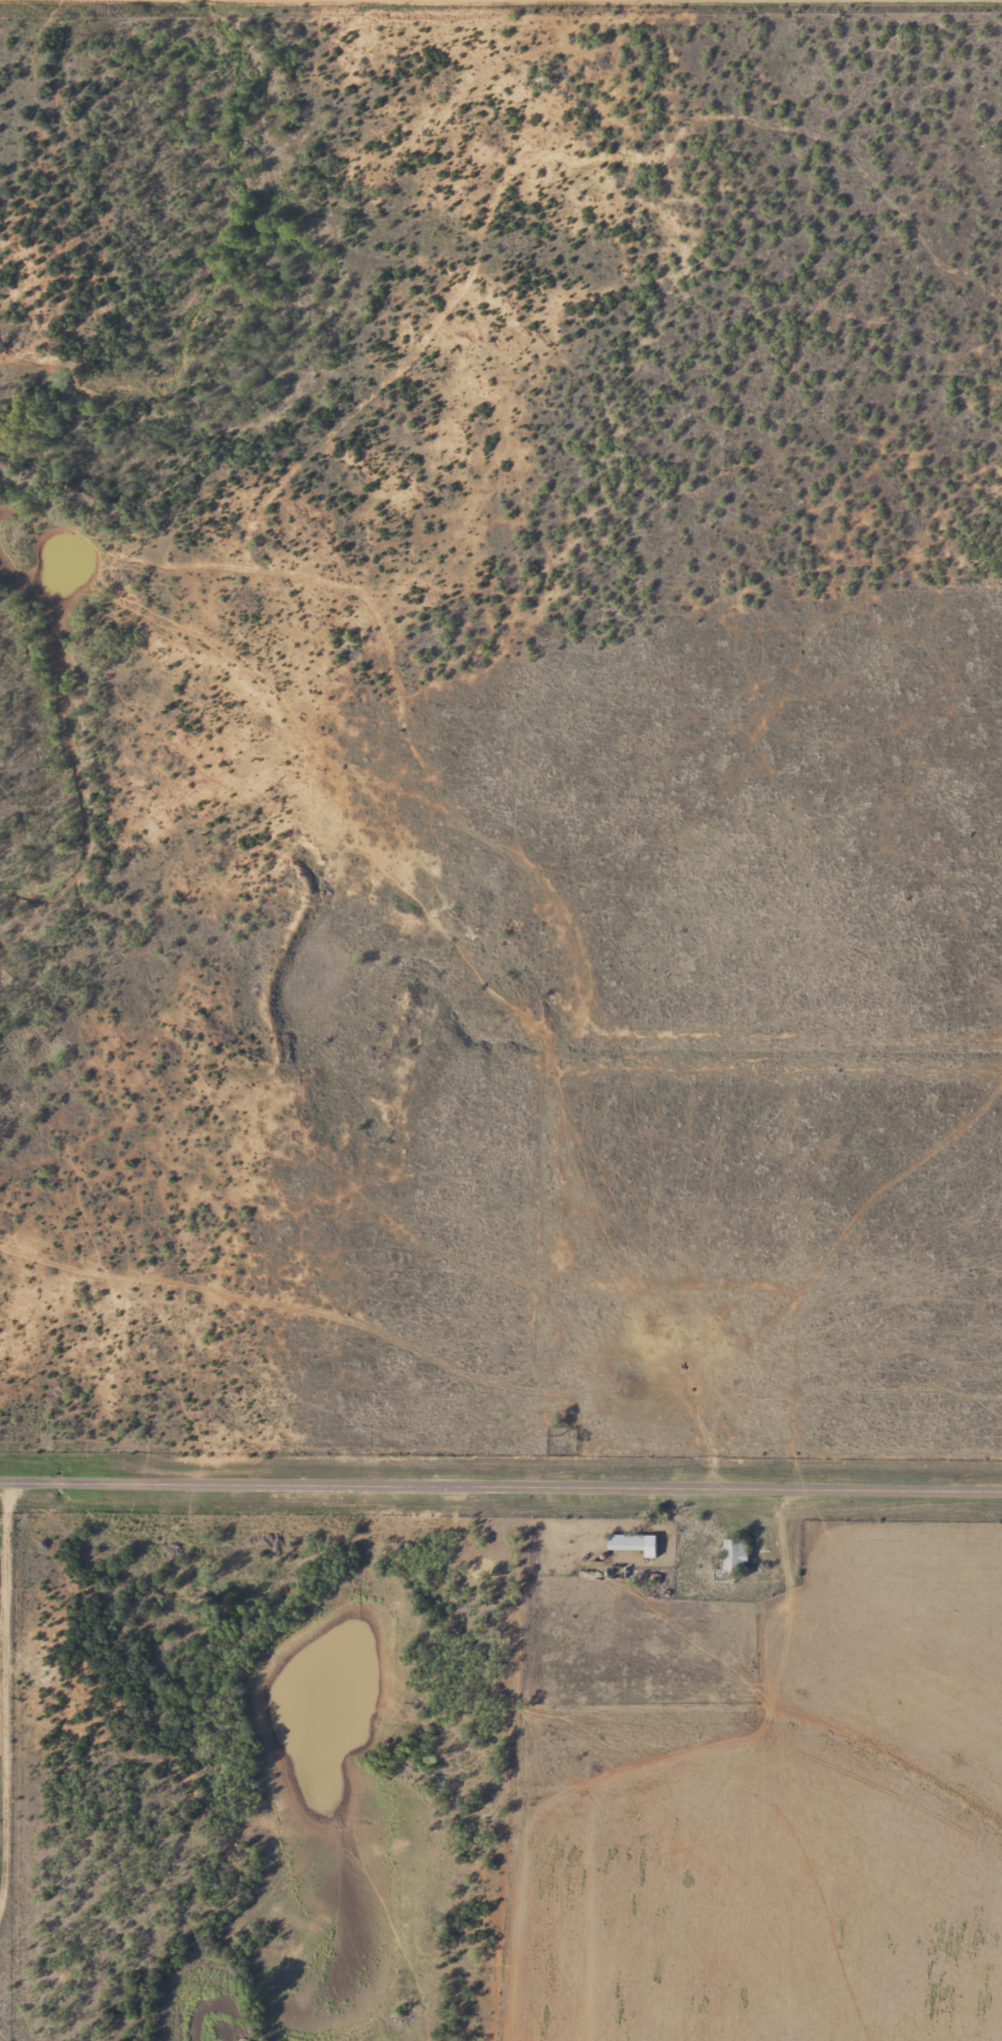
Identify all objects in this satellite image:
road: (506, 6)
road: (501, 1485)
building: (644, 1547)
building: (727, 1558)
road: (22, 1730)

